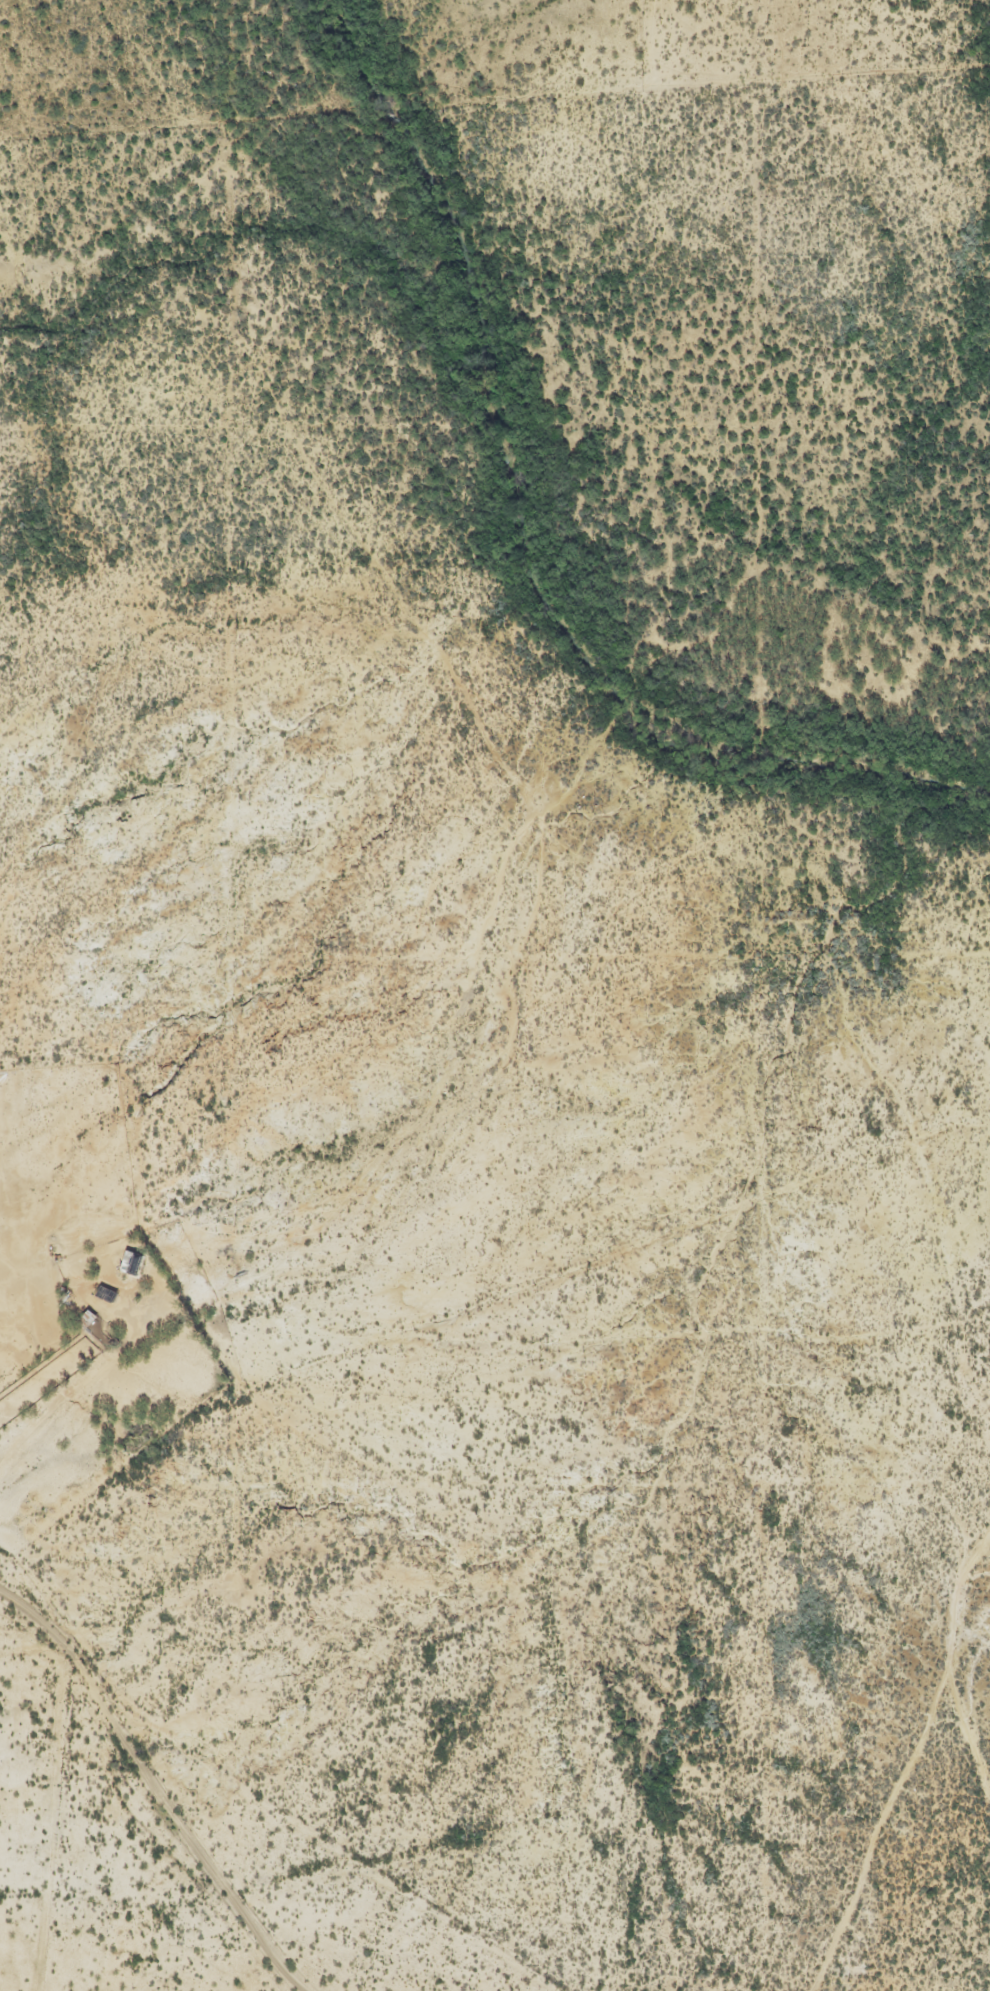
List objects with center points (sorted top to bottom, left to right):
road: (151, 1791)

